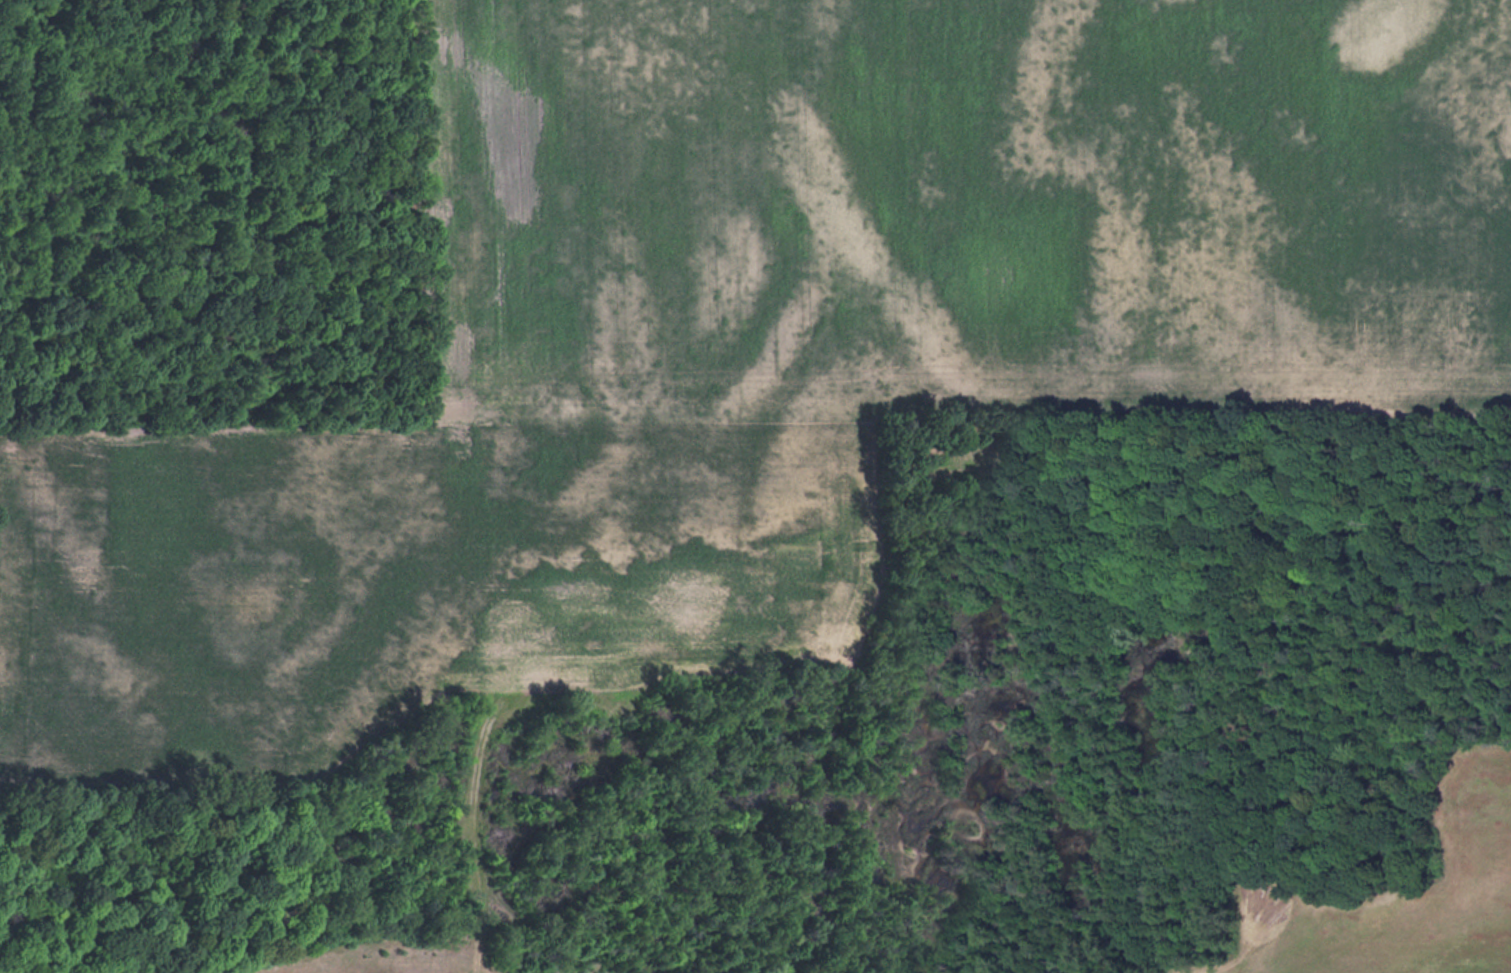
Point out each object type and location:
road: (380, 941)

